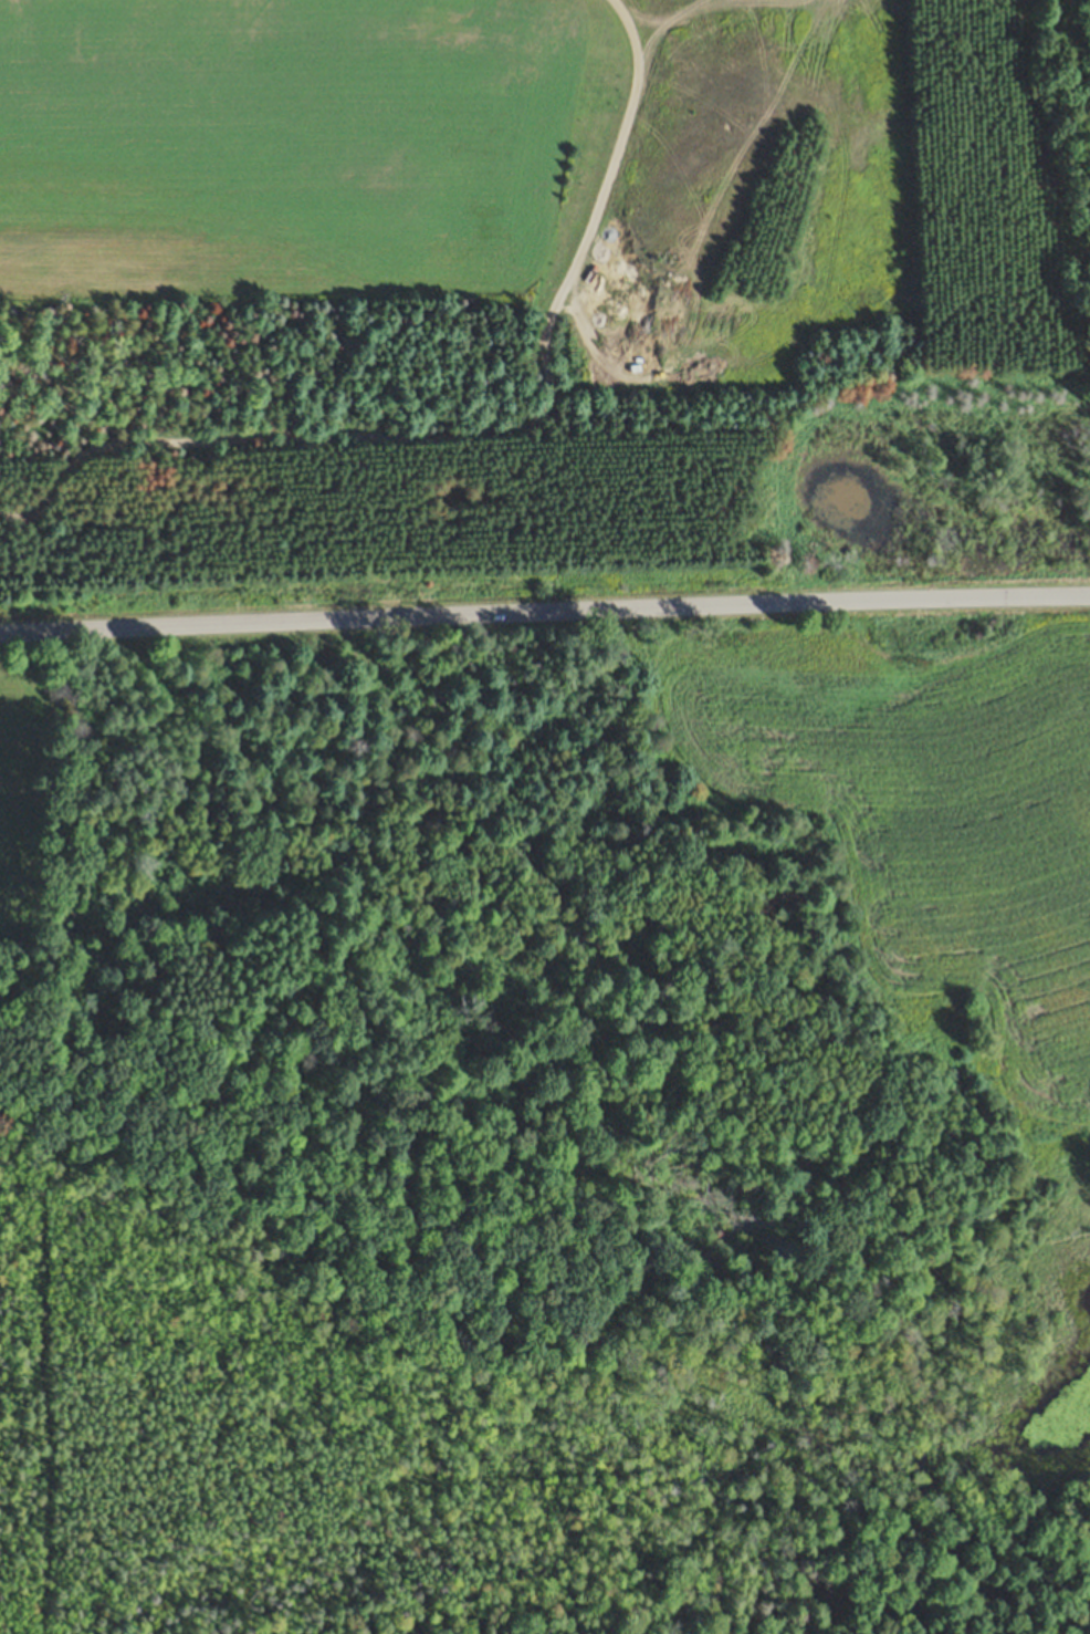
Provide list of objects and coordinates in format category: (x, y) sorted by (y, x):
road: (544, 621)

